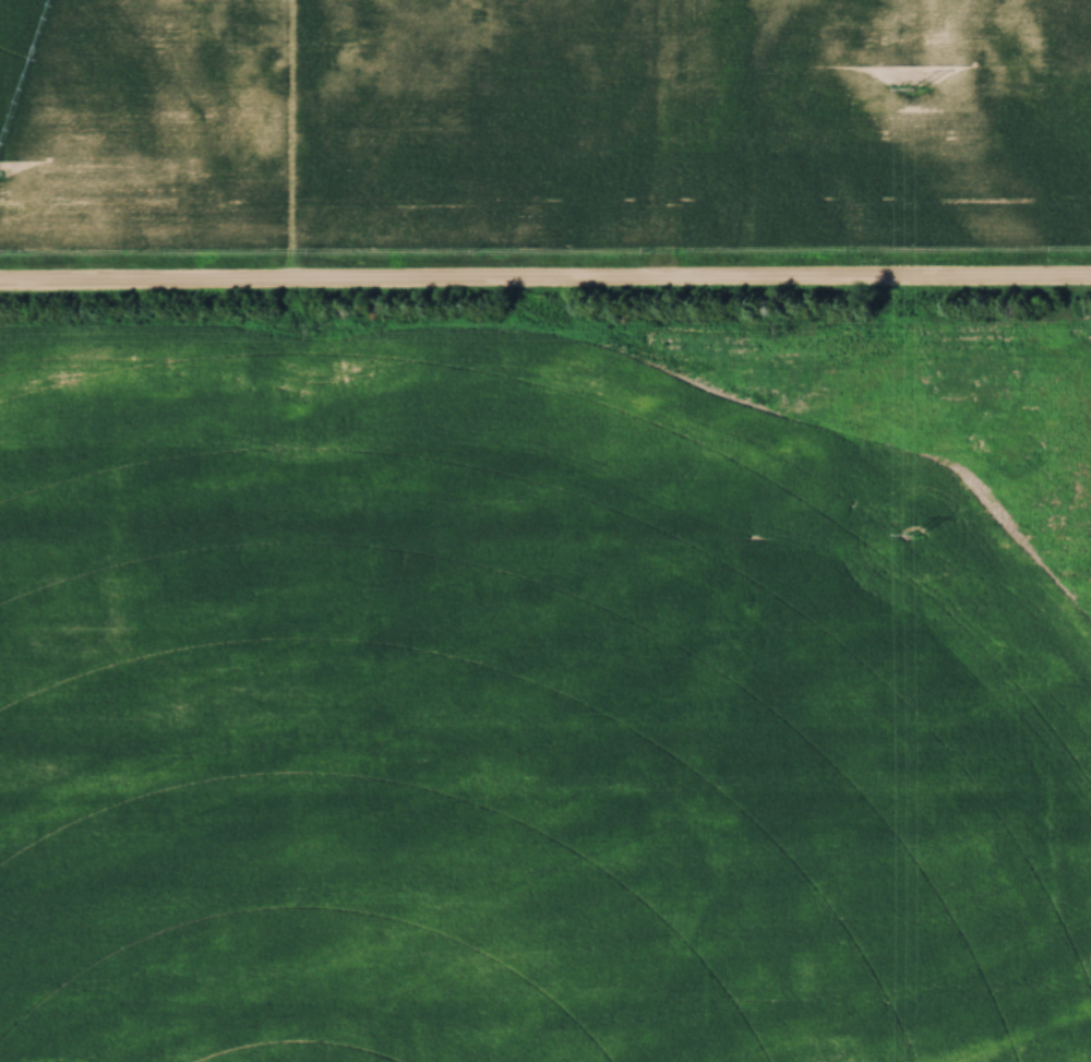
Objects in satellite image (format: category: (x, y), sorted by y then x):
power tower: (912, 91)
road: (545, 277)
power tower: (911, 537)

